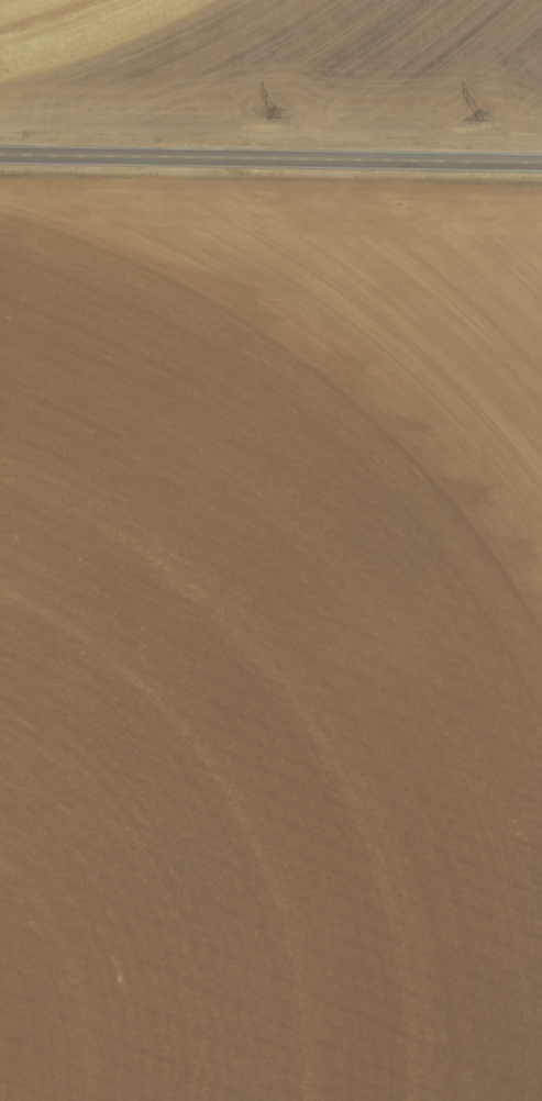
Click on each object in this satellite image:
road: (270, 165)

